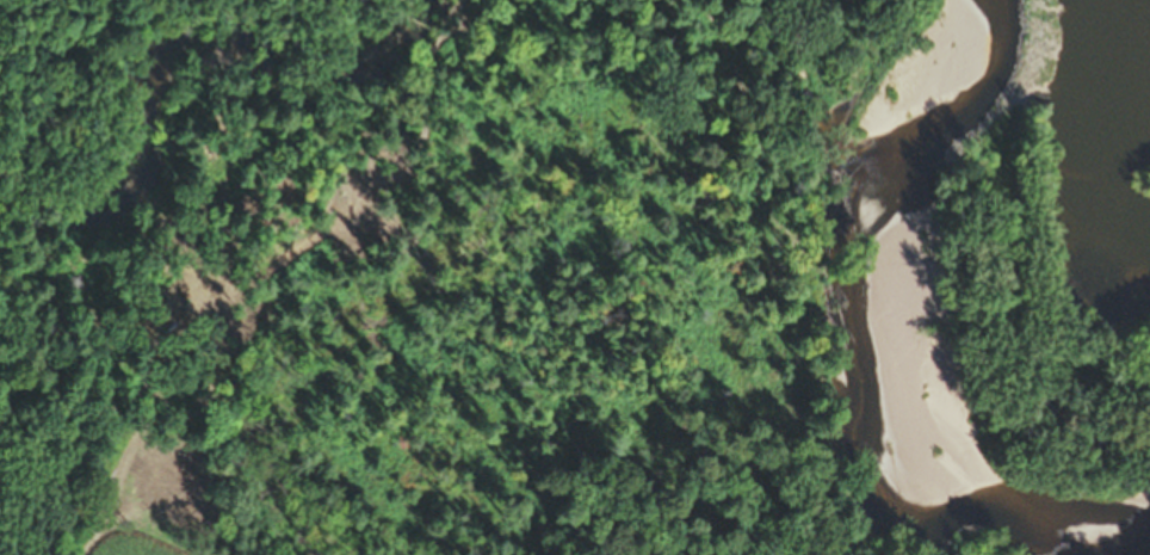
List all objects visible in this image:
quarry: (889, 16)
river: (909, 179)
quarry: (1053, 185)
river: (1044, 433)

